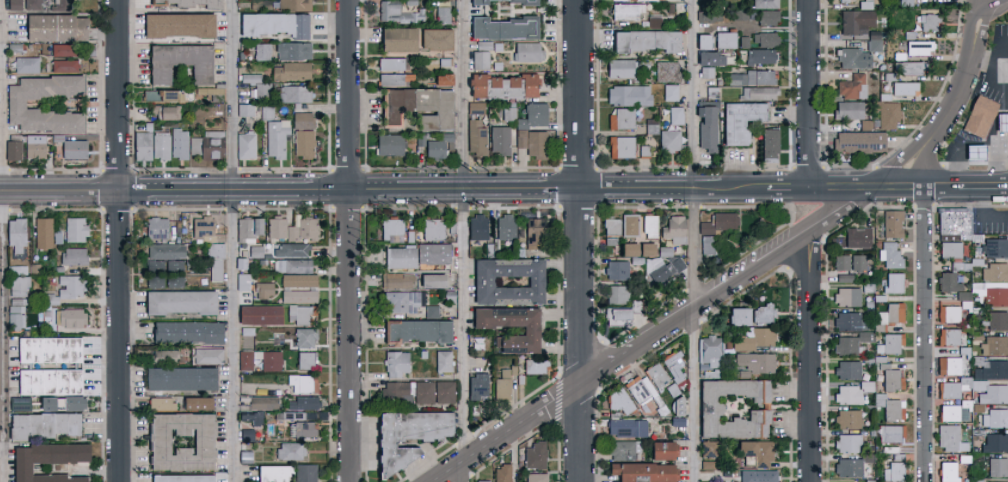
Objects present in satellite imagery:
building: (841, 0)
building: (64, 1)
building: (648, 1)
building: (849, 1)
building: (187, 3)
building: (414, 3)
building: (527, 3)
building: (13, 4)
building: (31, 4)
building: (909, 4)
building: (292, 5)
building: (768, 5)
building: (869, 5)
road: (993, 6)
building: (673, 10)
building: (630, 13)
building: (401, 14)
building: (446, 16)
building: (743, 16)
building: (712, 18)
building: (771, 19)
building: (271, 23)
building: (859, 23)
building: (933, 23)
building: (657, 24)
building: (176, 25)
building: (53, 27)
building: (509, 29)
building: (877, 36)
building: (913, 36)
building: (403, 41)
building: (440, 41)
building: (701, 41)
building: (729, 41)
building: (743, 41)
building: (769, 41)
building: (649, 42)
building: (707, 43)
building: (747, 43)
building: (487, 47)
building: (877, 47)
building: (62, 49)
building: (922, 49)
building: (291, 50)
building: (260, 51)
building: (531, 53)
building: (902, 57)
building: (763, 58)
building: (714, 60)
building: (856, 60)
building: (177, 62)
building: (484, 62)
building: (449, 63)
building: (26, 64)
building: (64, 65)
building: (396, 65)
road: (1005, 68)
building: (624, 69)
building: (913, 69)
building: (290, 70)
building: (670, 73)
building: (710, 74)
road: (967, 77)
building: (893, 78)
building: (755, 79)
building: (400, 81)
building: (448, 81)
building: (255, 85)
building: (508, 87)
building: (856, 89)
building: (908, 90)
building: (710, 91)
building: (292, 93)
building: (207, 94)
building: (674, 94)
building: (715, 94)
building: (762, 94)
building: (159, 95)
road: (809, 95)
building: (632, 97)
building: (888, 98)
building: (15, 103)
building: (243, 109)
building: (421, 109)
building: (479, 109)
building: (163, 112)
building: (266, 112)
building: (852, 112)
building: (512, 115)
building: (890, 115)
building: (537, 117)
building: (679, 117)
building: (983, 117)
building: (301, 120)
building: (625, 121)
building: (745, 122)
building: (1004, 124)
building: (871, 126)
building: (711, 127)
building: (655, 128)
building: (275, 137)
building: (480, 139)
building: (423, 141)
building: (524, 141)
building: (504, 142)
building: (672, 142)
building: (140, 143)
building: (177, 143)
building: (302, 143)
building: (862, 143)
building: (159, 145)
building: (206, 145)
building: (35, 146)
building: (244, 146)
building: (394, 146)
building: (540, 146)
building: (773, 146)
building: (70, 147)
building: (443, 147)
building: (624, 149)
building: (12, 150)
building: (648, 153)
building: (979, 154)
road: (896, 167)
road: (922, 167)
road: (992, 189)
road: (404, 190)
road: (950, 190)
road: (840, 191)
road: (896, 191)
road: (981, 213)
road: (923, 218)
building: (716, 223)
building: (891, 223)
building: (628, 224)
building: (951, 224)
building: (647, 225)
building: (202, 226)
building: (610, 226)
building: (155, 227)
building: (390, 227)
building: (478, 227)
building: (504, 227)
building: (247, 228)
building: (291, 228)
building: (75, 229)
building: (431, 229)
building: (674, 229)
building: (42, 233)
building: (533, 233)
building: (13, 234)
building: (57, 237)
building: (857, 237)
road: (6, 240)
road: (349, 240)
road: (697, 240)
road: (121, 241)
road: (235, 241)
road: (466, 241)
road: (581, 241)
building: (707, 244)
building: (995, 247)
building: (289, 249)
building: (636, 249)
building: (165, 251)
building: (255, 251)
building: (416, 255)
building: (890, 255)
building: (952, 255)
building: (73, 256)
building: (214, 262)
building: (841, 262)
building: (857, 262)
building: (663, 264)
building: (292, 265)
building: (615, 270)
building: (993, 272)
building: (164, 273)
building: (843, 278)
building: (297, 280)
building: (395, 280)
building: (505, 280)
building: (242, 281)
building: (430, 281)
building: (892, 282)
building: (947, 282)
building: (18, 285)
building: (262, 289)
building: (991, 292)
building: (616, 294)
building: (298, 296)
building: (846, 296)
building: (399, 301)
building: (177, 302)
building: (52, 303)
building: (634, 306)
building: (953, 308)
building: (431, 311)
building: (15, 312)
building: (760, 313)
building: (892, 313)
building: (297, 314)
building: (258, 315)
building: (615, 316)
building: (736, 316)
building: (847, 320)
building: (997, 320)
building: (245, 331)
building: (415, 331)
building: (528, 331)
building: (184, 332)
building: (950, 336)
building: (304, 337)
road: (656, 338)
building: (751, 339)
building: (476, 343)
building: (849, 343)
building: (890, 343)
building: (994, 345)
building: (40, 353)
building: (207, 356)
building: (708, 356)
road: (810, 356)
building: (268, 359)
building: (244, 360)
building: (305, 360)
building: (441, 361)
building: (754, 362)
building: (394, 364)
road: (924, 364)
building: (534, 365)
building: (673, 366)
building: (846, 369)
building: (942, 369)
building: (989, 369)
building: (890, 377)
building: (178, 378)
building: (659, 378)
building: (48, 381)
building: (302, 383)
building: (501, 385)
building: (476, 386)
building: (639, 389)
building: (949, 389)
building: (985, 390)
building: (394, 392)
building: (433, 392)
building: (851, 392)
building: (619, 401)
building: (194, 402)
building: (262, 402)
building: (18, 403)
building: (44, 403)
building: (74, 403)
building: (160, 403)
building: (301, 403)
building: (676, 405)
building: (707, 407)
building: (888, 407)
building: (949, 413)
building: (255, 418)
building: (847, 418)
building: (994, 418)
building: (57, 424)
building: (21, 426)
building: (422, 426)
building: (626, 427)
building: (304, 429)
building: (891, 433)
building: (245, 434)
building: (948, 437)
building: (179, 442)
building: (995, 442)
building: (848, 443)
building: (387, 448)
building: (706, 449)
building: (621, 450)
building: (662, 450)
building: (290, 451)
building: (755, 452)
building: (534, 456)
building: (44, 461)
building: (847, 467)
building: (997, 467)
building: (894, 468)
building: (947, 471)
building: (641, 472)
building: (270, 473)
building: (304, 473)
building: (502, 473)
building: (757, 476)
building: (534, 477)
building: (179, 478)
building: (481, 481)

